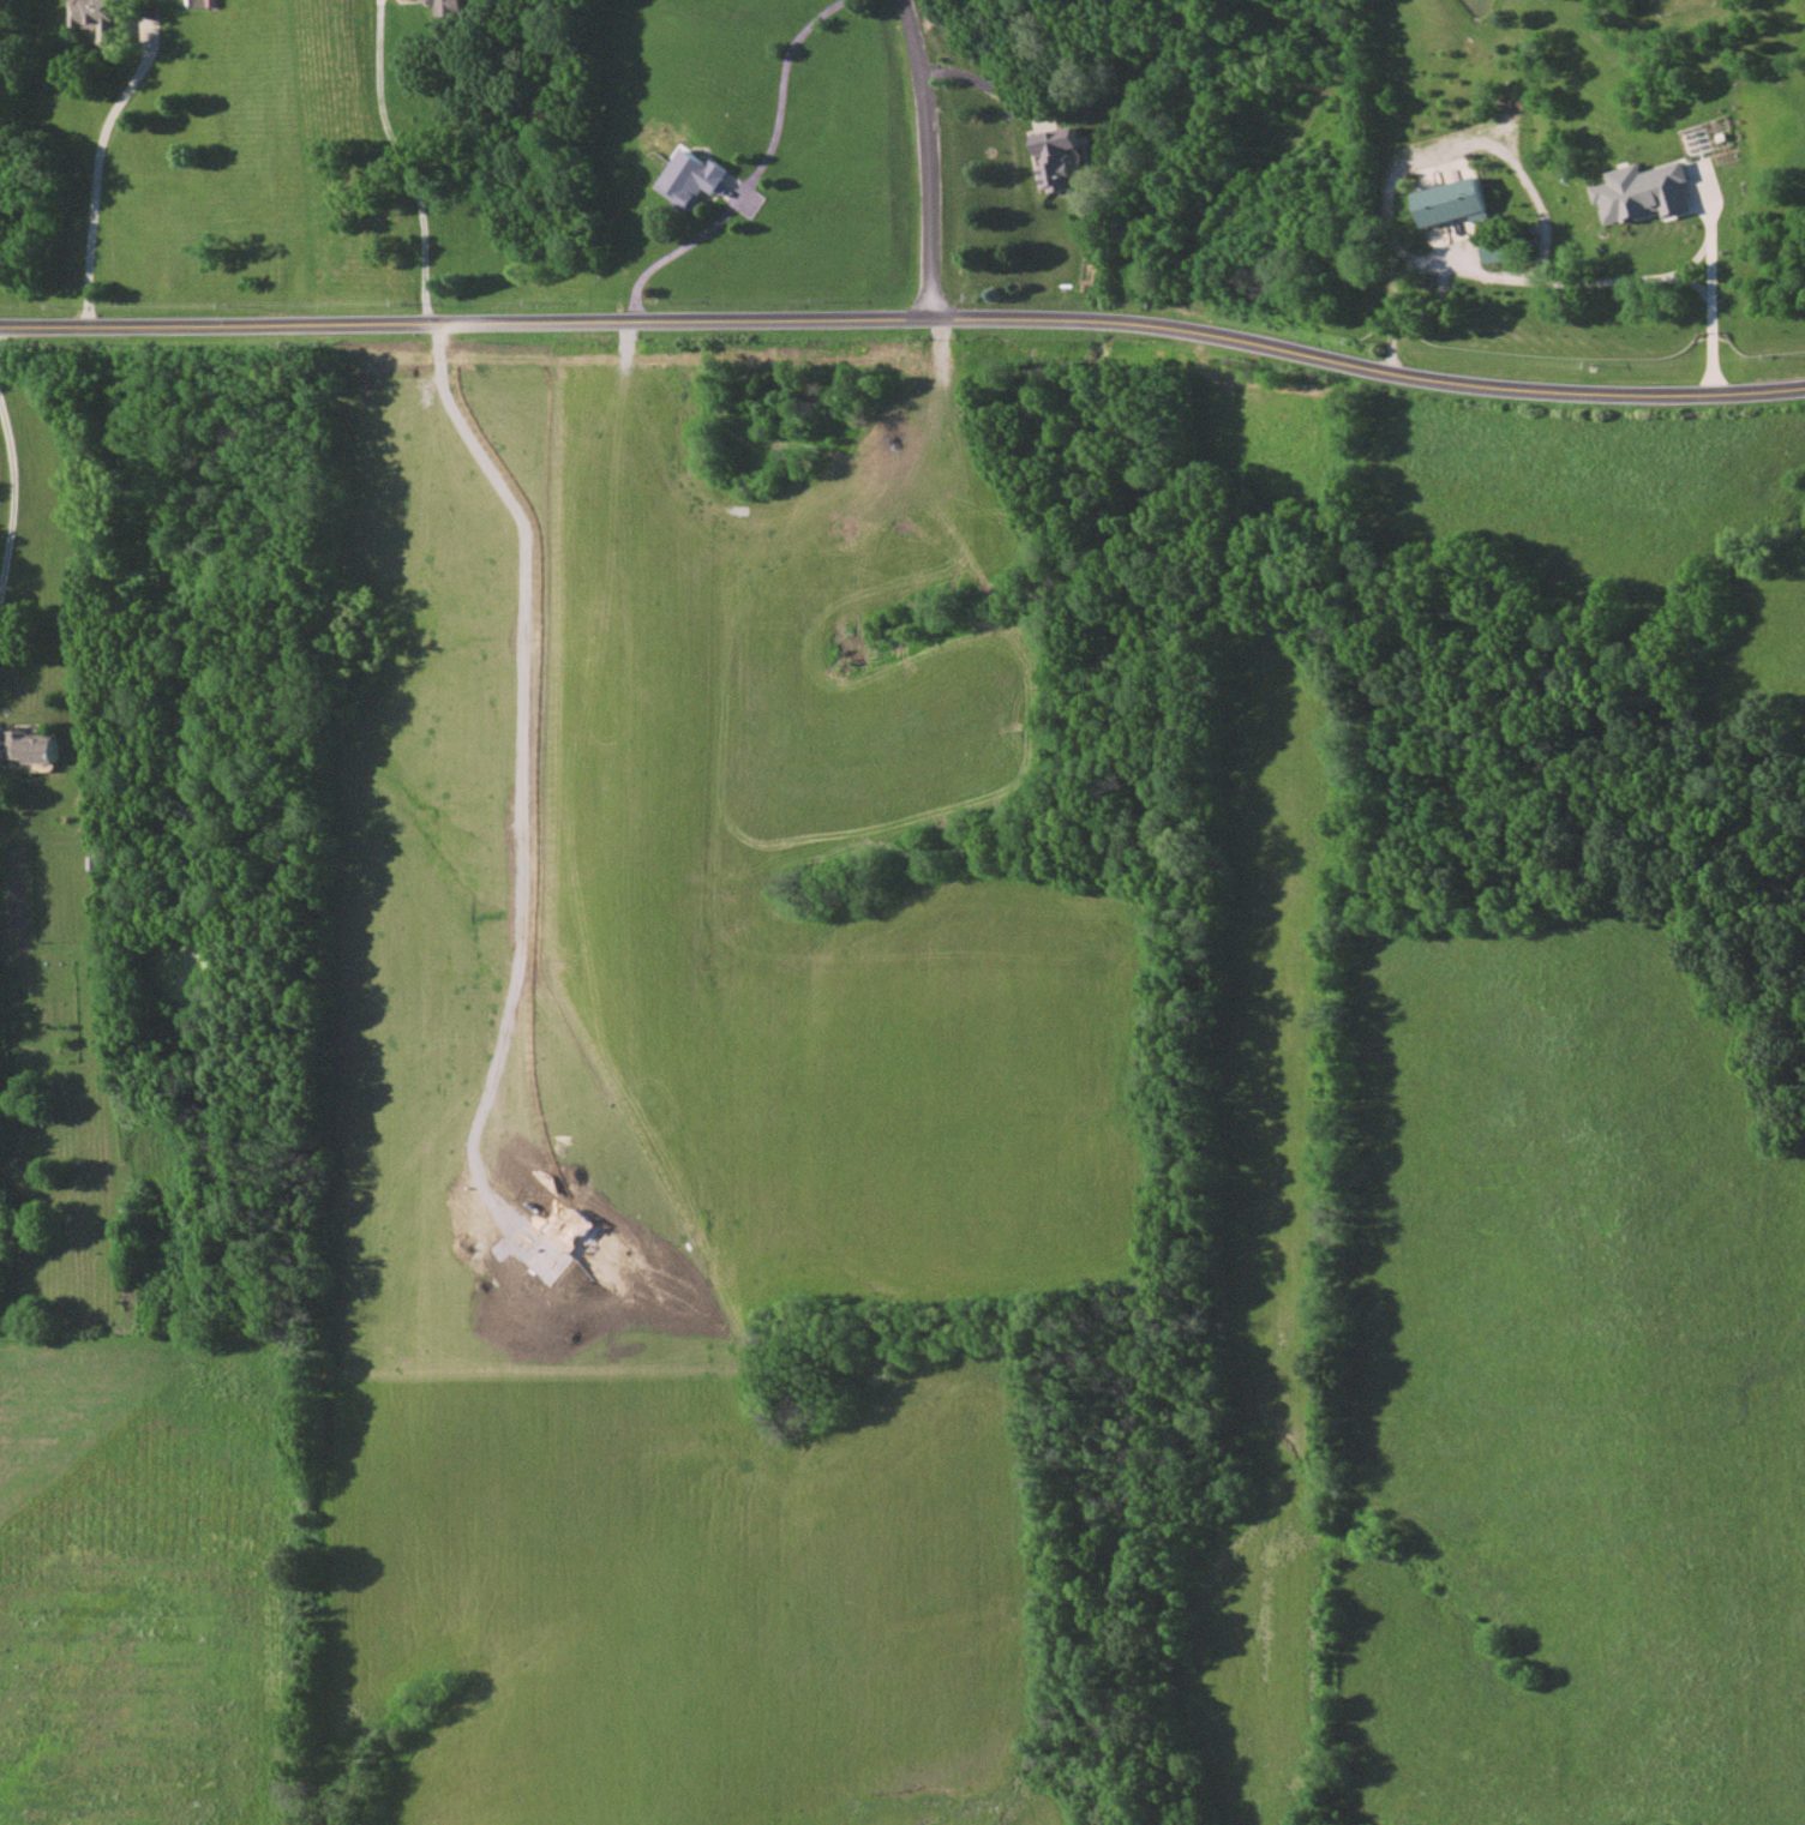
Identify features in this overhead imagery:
building: (449, 7)
building: (100, 17)
road: (985, 83)
road: (1464, 138)
road: (931, 157)
building: (1057, 157)
road: (401, 161)
road: (746, 174)
building: (691, 178)
road: (90, 186)
building: (1643, 192)
building: (1452, 202)
building: (1494, 251)
road: (1693, 253)
road: (1503, 271)
road: (1709, 276)
road: (905, 319)
road: (12, 492)
building: (31, 746)

